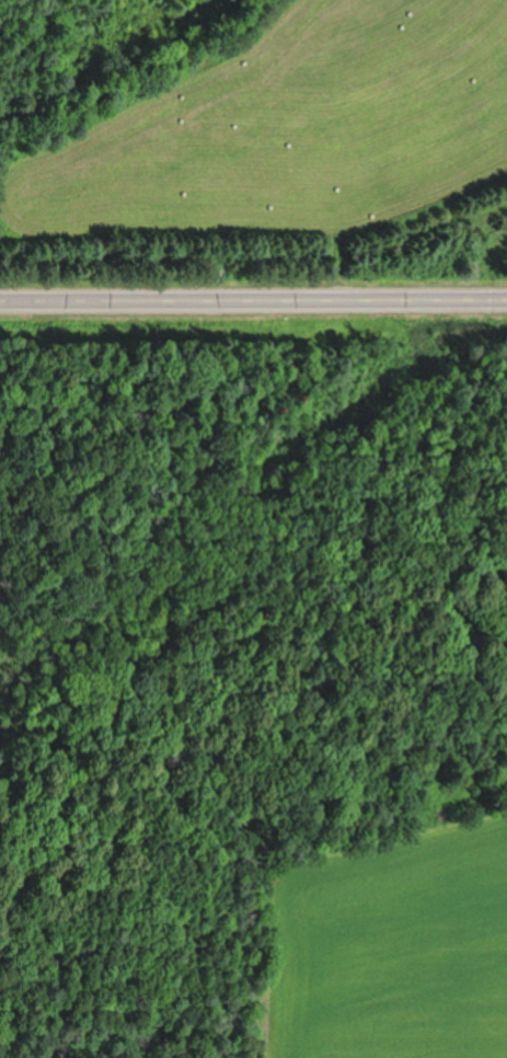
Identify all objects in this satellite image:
road: (253, 296)

